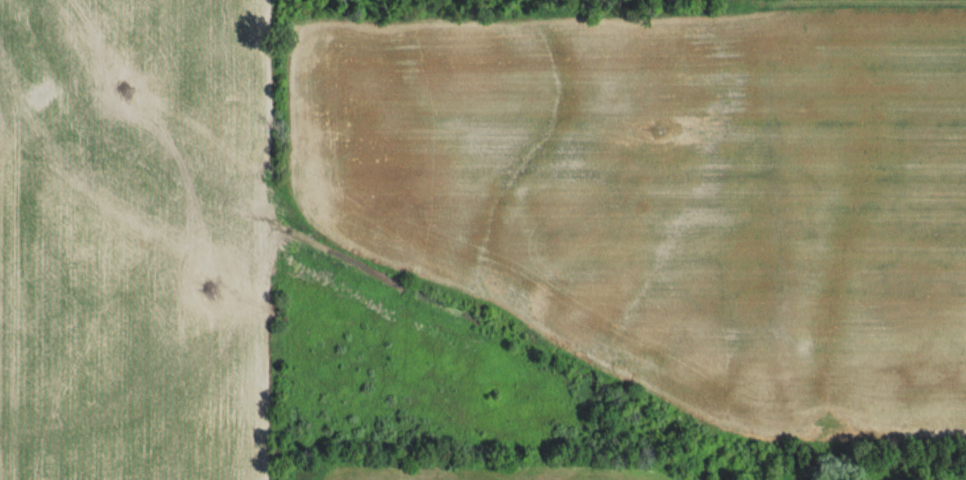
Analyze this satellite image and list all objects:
crop: (166, 71)

